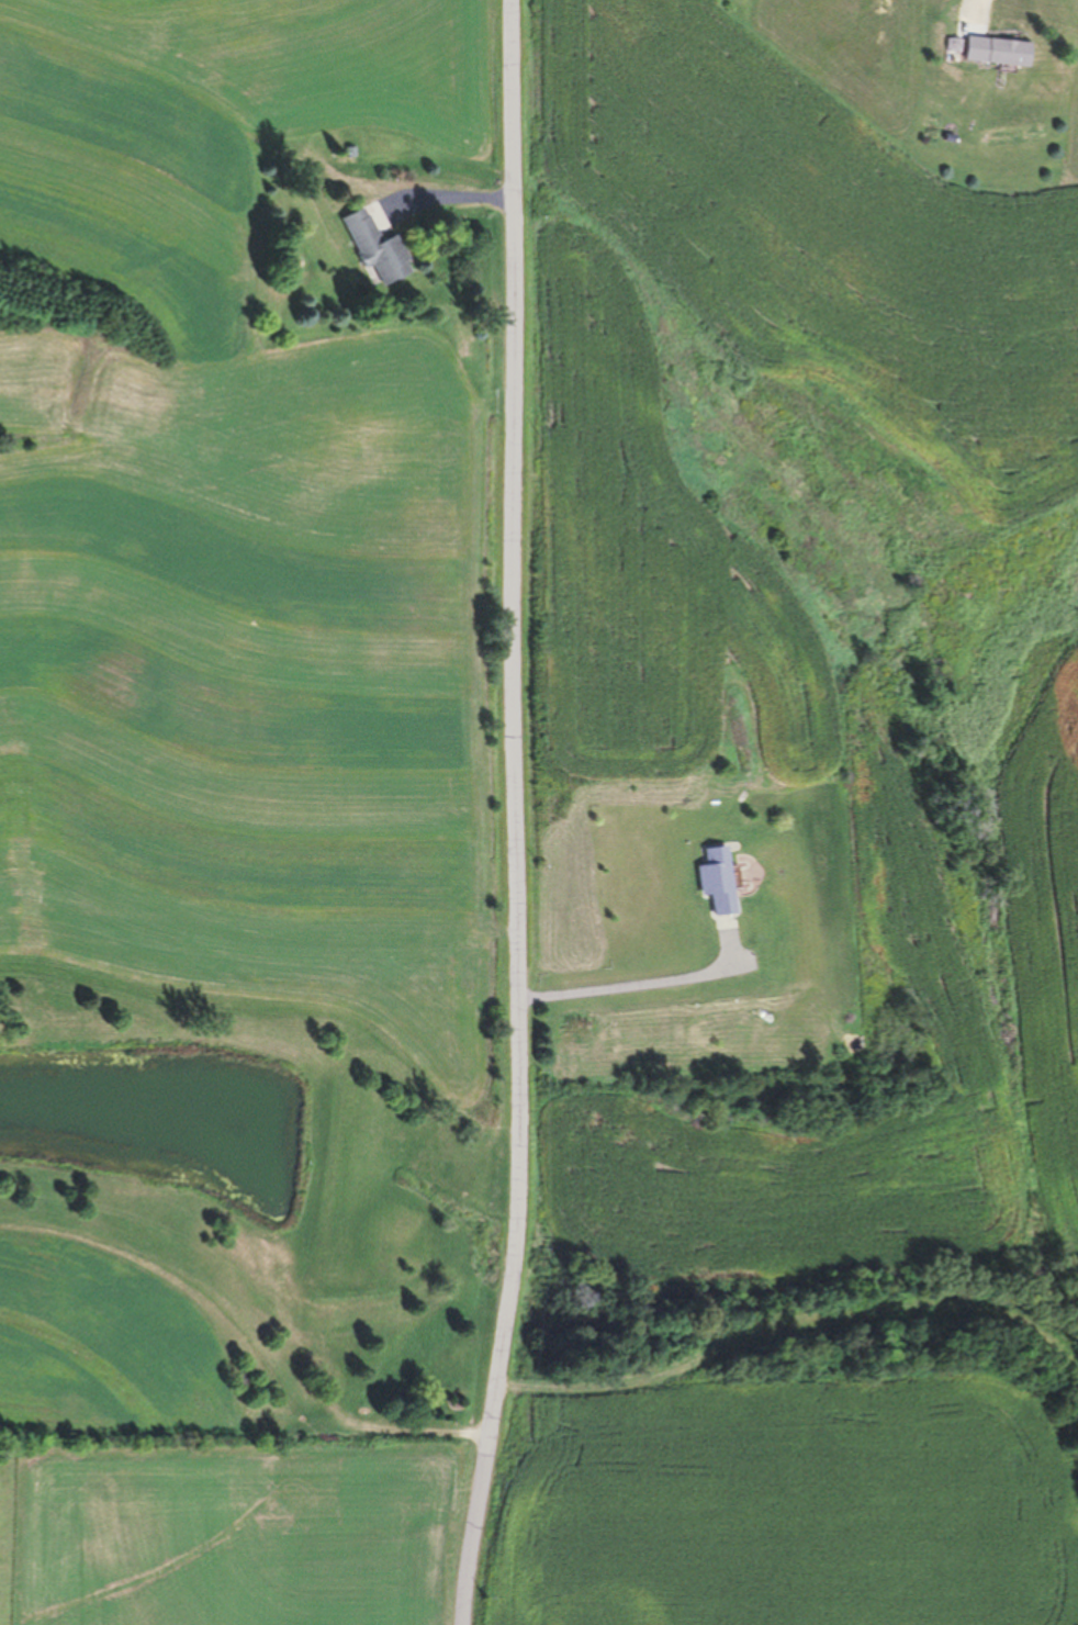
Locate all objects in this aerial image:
road: (981, 5)
building: (996, 49)
building: (374, 243)
road: (518, 814)
building: (719, 881)
road: (643, 980)

